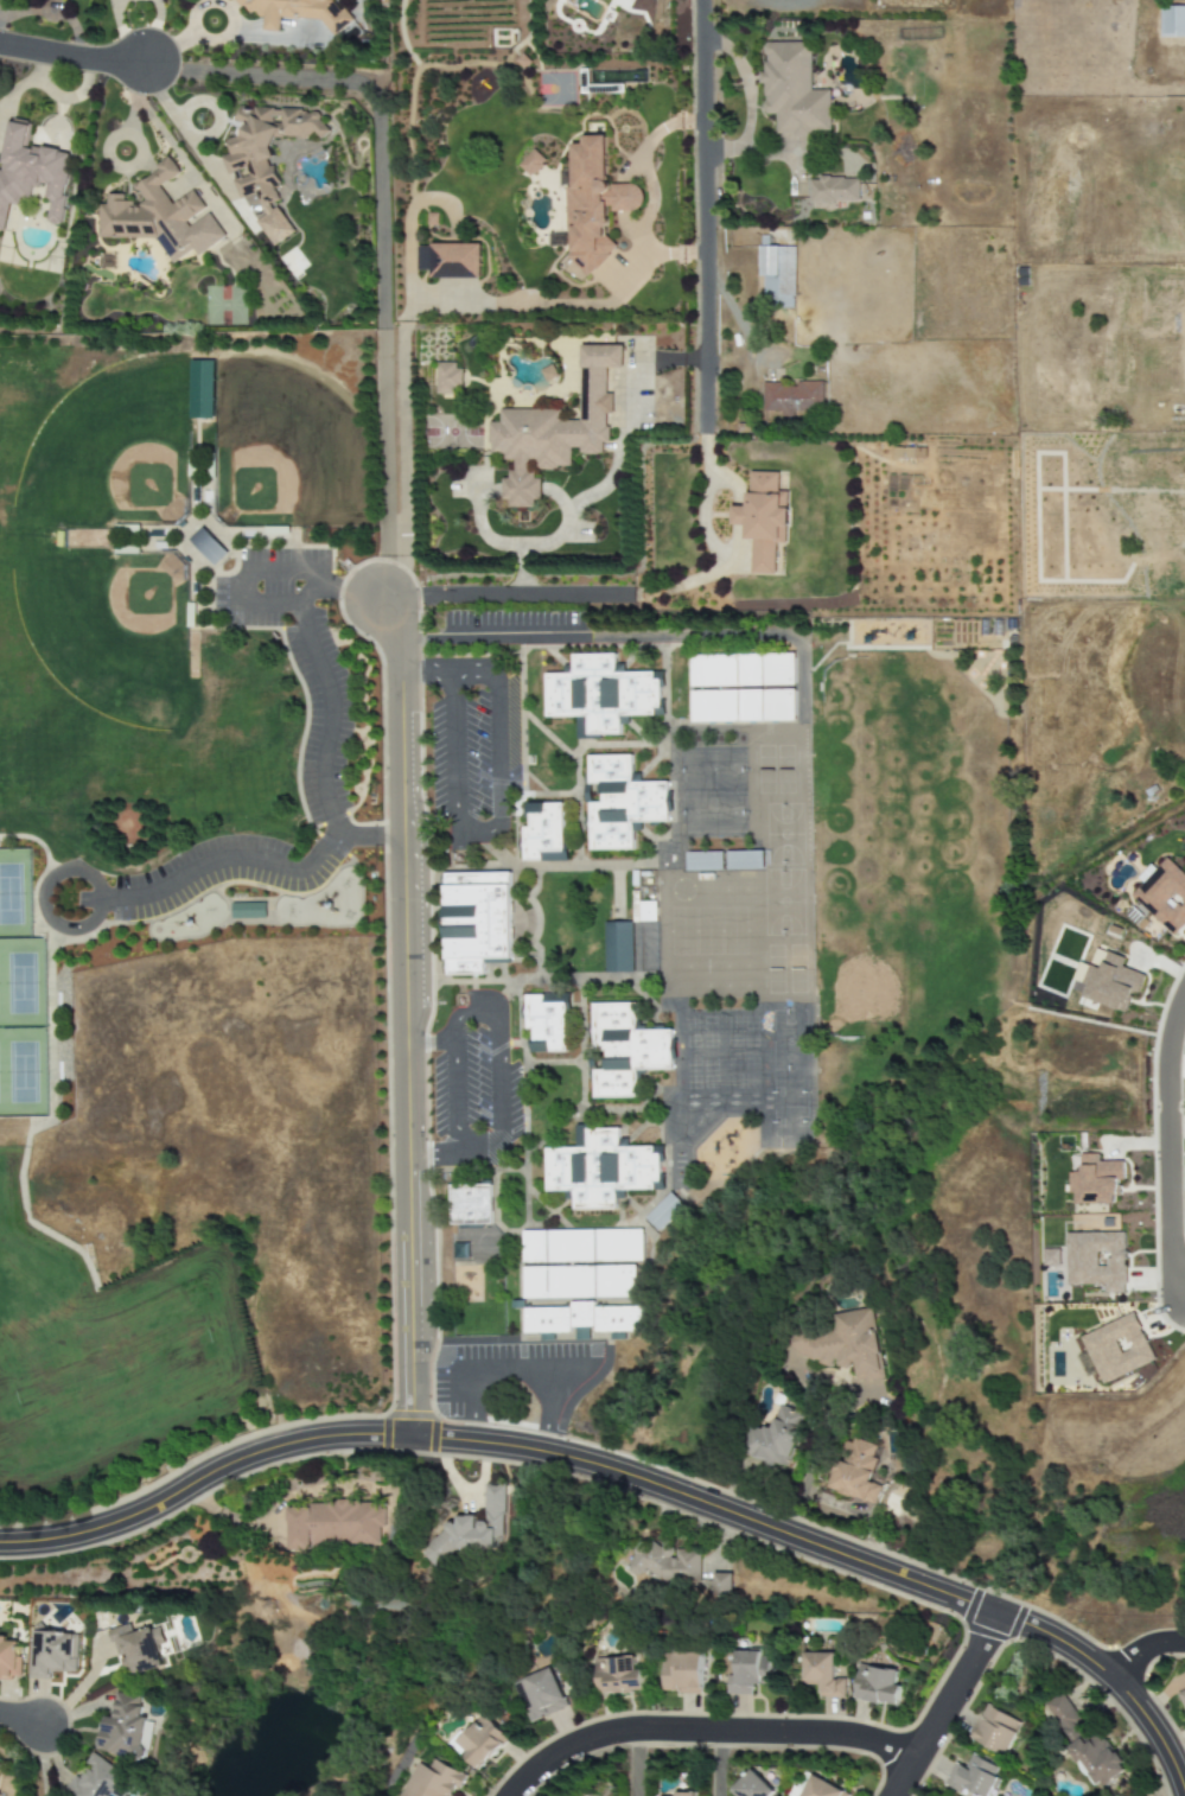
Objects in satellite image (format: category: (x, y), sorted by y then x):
road: (778, 1)
building: (297, 12)
building: (1172, 21)
road: (70, 53)
building: (794, 91)
road: (747, 97)
building: (267, 159)
building: (531, 163)
road: (644, 164)
building: (30, 172)
building: (834, 190)
building: (593, 205)
road: (707, 214)
building: (159, 217)
road: (380, 233)
building: (450, 261)
building: (777, 276)
road: (418, 307)
building: (447, 378)
building: (202, 389)
building: (792, 399)
building: (555, 429)
park: (109, 451)
park: (283, 452)
building: (763, 520)
road: (712, 543)
building: (208, 547)
road: (505, 593)
road: (349, 596)
road: (304, 624)
park: (108, 626)
road: (488, 638)
road: (859, 649)
road: (988, 656)
road: (994, 658)
road: (987, 663)
road: (428, 676)
building: (741, 688)
road: (980, 689)
building: (600, 694)
road: (404, 721)
park: (713, 791)
building: (620, 803)
road: (496, 827)
building: (543, 833)
road: (261, 860)
building: (744, 860)
building: (703, 861)
park: (783, 871)
park: (13, 894)
road: (40, 897)
building: (1164, 897)
building: (247, 911)
building: (643, 911)
building: (476, 921)
park: (707, 931)
building: (618, 948)
building: (1111, 983)
park: (862, 995)
road: (493, 1013)
building: (546, 1025)
park: (21, 1028)
road: (432, 1043)
building: (624, 1050)
park: (789, 1075)
road: (413, 1138)
road: (1168, 1139)
road: (433, 1155)
building: (600, 1170)
building: (1096, 1180)
building: (470, 1204)
building: (663, 1211)
building: (460, 1250)
building: (1052, 1259)
building: (1096, 1260)
building: (580, 1263)
building: (581, 1319)
building: (837, 1344)
building: (1117, 1349)
road: (510, 1370)
building: (775, 1438)
building: (854, 1472)
road: (807, 1475)
road: (629, 1478)
road: (859, 1512)
building: (339, 1524)
building: (471, 1530)
building: (663, 1561)
building: (721, 1585)
building: (142, 1648)
building: (57, 1655)
road: (1146, 1655)
building: (11, 1657)
building: (683, 1673)
building: (750, 1673)
building: (823, 1675)
building: (619, 1676)
building: (878, 1686)
building: (542, 1695)
building: (1183, 1698)
road: (951, 1706)
road: (25, 1719)
building: (130, 1730)
building: (996, 1731)
road: (708, 1732)
building: (483, 1741)
building: (1085, 1744)
road: (45, 1760)
road: (642, 1763)
building: (0, 1764)
road: (725, 1764)
building: (973, 1777)
building: (103, 1781)
building: (434, 1781)
building: (752, 1787)
building: (822, 1789)
building: (687, 1794)

